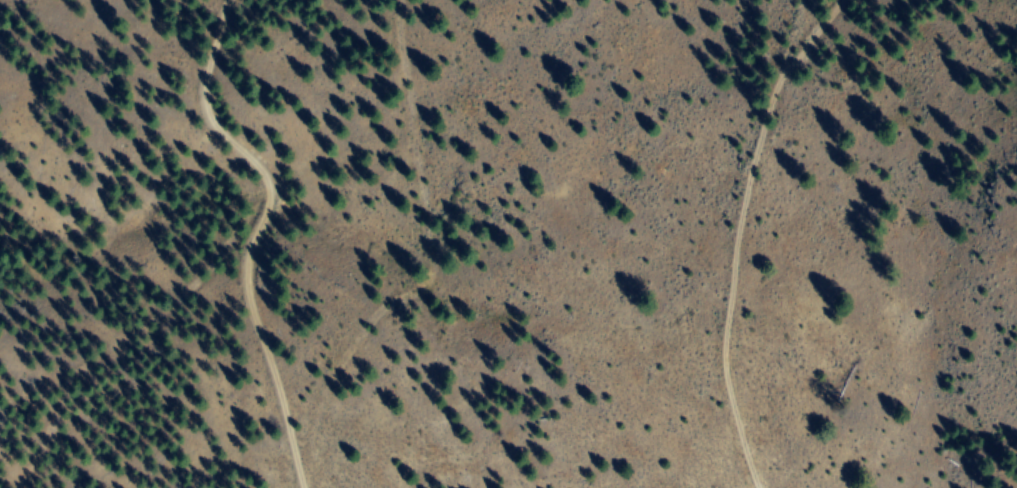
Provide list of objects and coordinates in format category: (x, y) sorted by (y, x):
road: (258, 231)
road: (739, 232)

